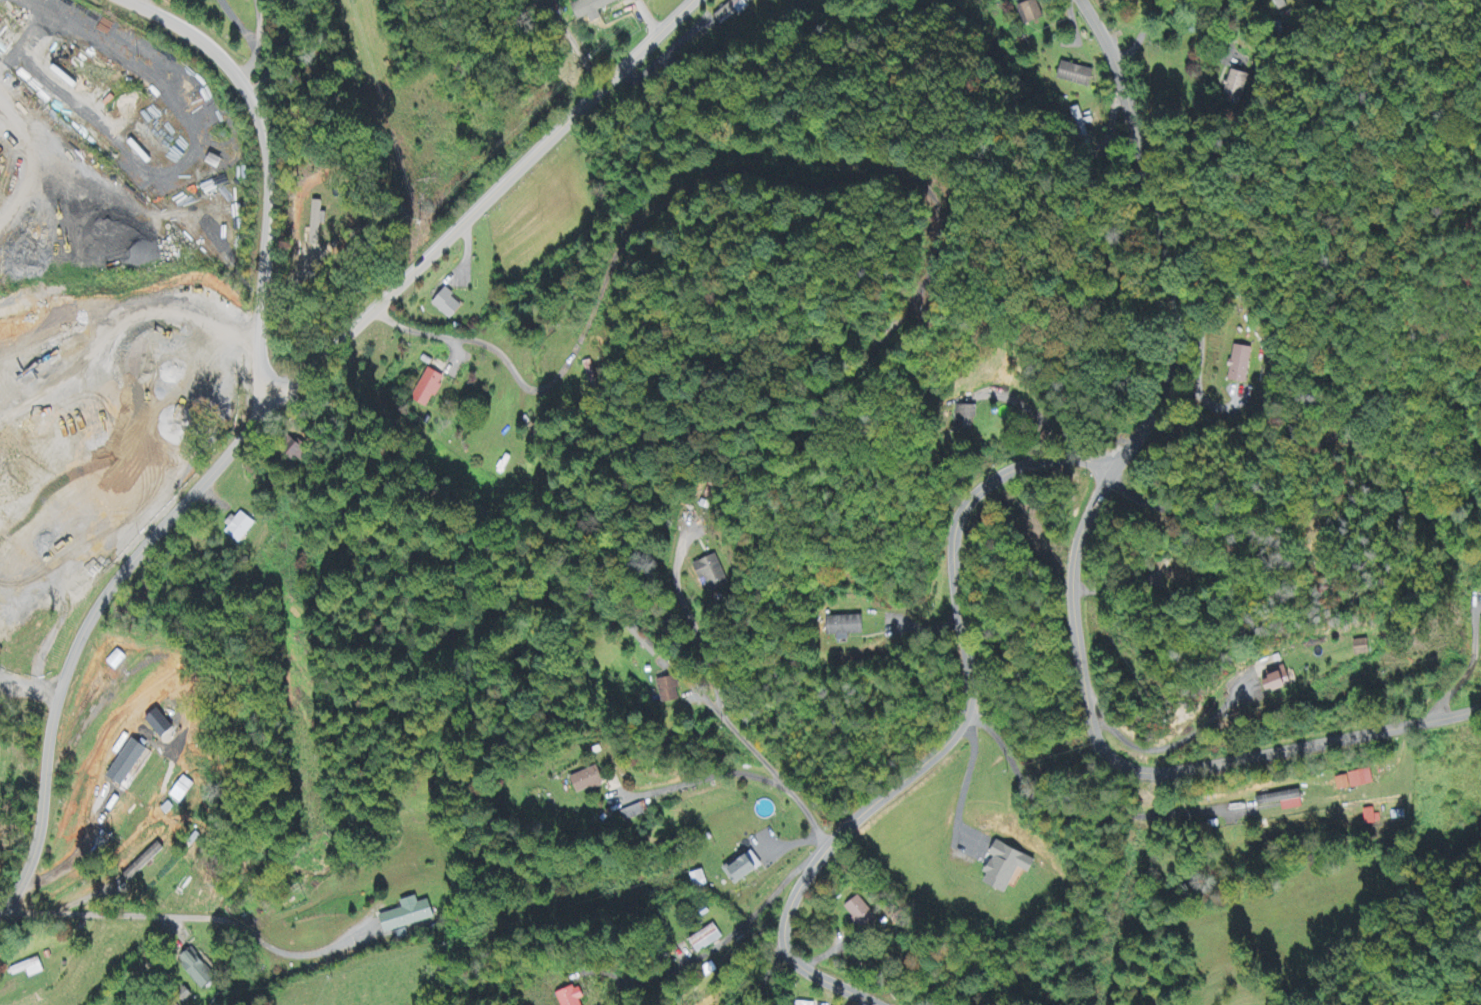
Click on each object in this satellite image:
building: (1278, 5)
building: (588, 9)
building: (1029, 12)
road: (646, 19)
road: (1142, 36)
road: (255, 40)
building: (1074, 75)
building: (1234, 85)
building: (1078, 117)
road: (269, 171)
road: (505, 178)
building: (320, 221)
building: (449, 305)
building: (1241, 365)
road: (1162, 383)
building: (429, 388)
building: (962, 419)
building: (242, 528)
building: (712, 575)
road: (98, 604)
building: (843, 628)
building: (117, 660)
road: (21, 679)
building: (1272, 682)
building: (670, 691)
road: (29, 693)
building: (162, 725)
road: (952, 735)
road: (1297, 746)
building: (129, 763)
building: (1352, 781)
building: (589, 782)
building: (184, 791)
building: (1278, 801)
building: (1000, 868)
building: (744, 870)
building: (860, 914)
road: (175, 916)
building: (408, 916)
road: (739, 924)
building: (708, 940)
building: (29, 969)
building: (198, 971)
building: (574, 997)

